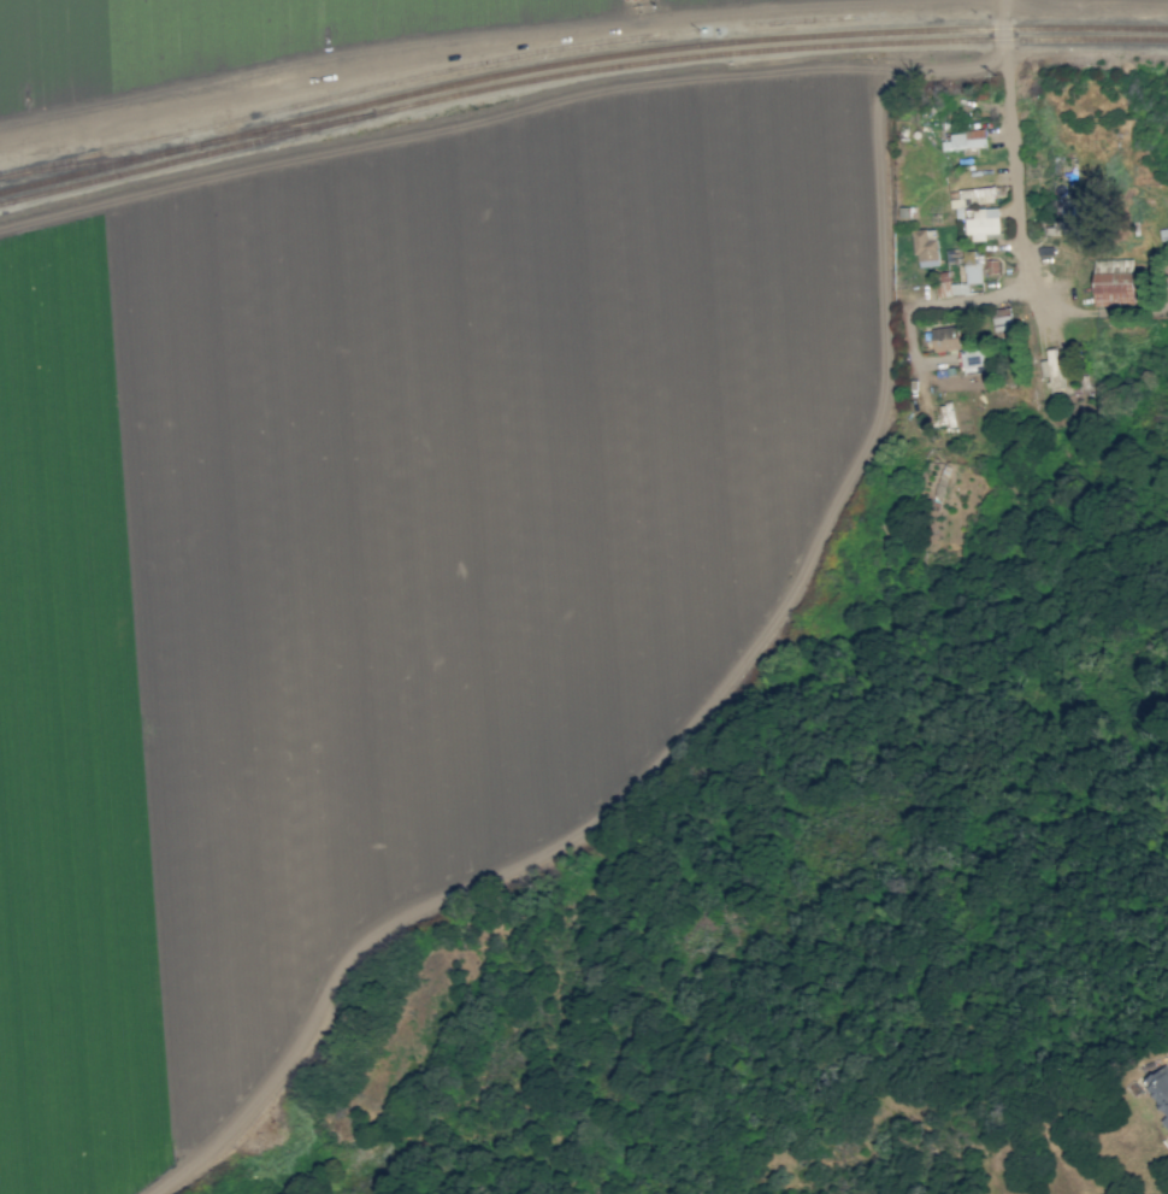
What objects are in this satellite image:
crop: (283, 37)
railway: (577, 60)
railway: (577, 73)
railway: (285, 128)
building: (965, 140)
railway: (93, 161)
building: (972, 199)
building: (983, 222)
building: (1066, 224)
building: (926, 247)
road: (1022, 249)
building: (972, 267)
building: (1114, 282)
building: (960, 288)
building: (1002, 323)
building: (945, 337)
building: (973, 360)
building: (1054, 371)
building: (946, 413)
crop: (383, 547)
road: (731, 693)
building: (1158, 1086)
building: (1166, 1122)

